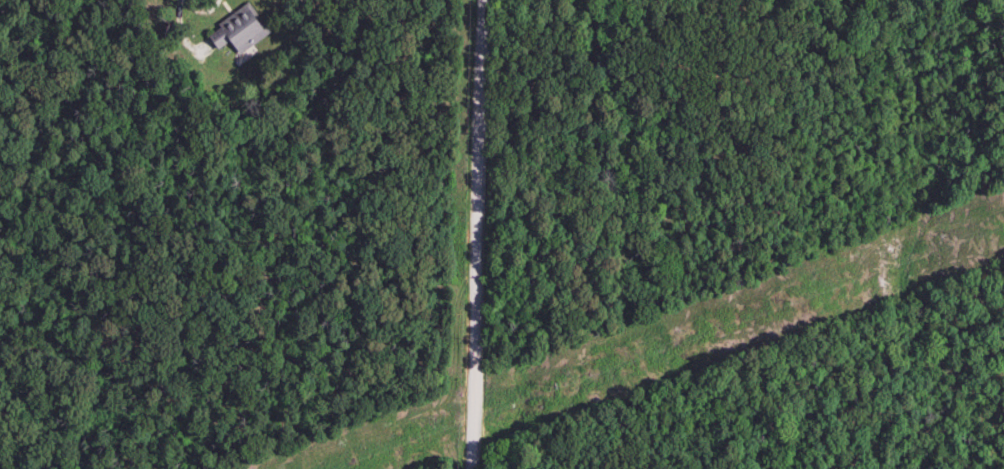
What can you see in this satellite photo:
building: (236, 33)
road: (469, 234)
power tower: (952, 240)
power tower: (780, 302)
power tower: (546, 388)
power tower: (336, 463)

